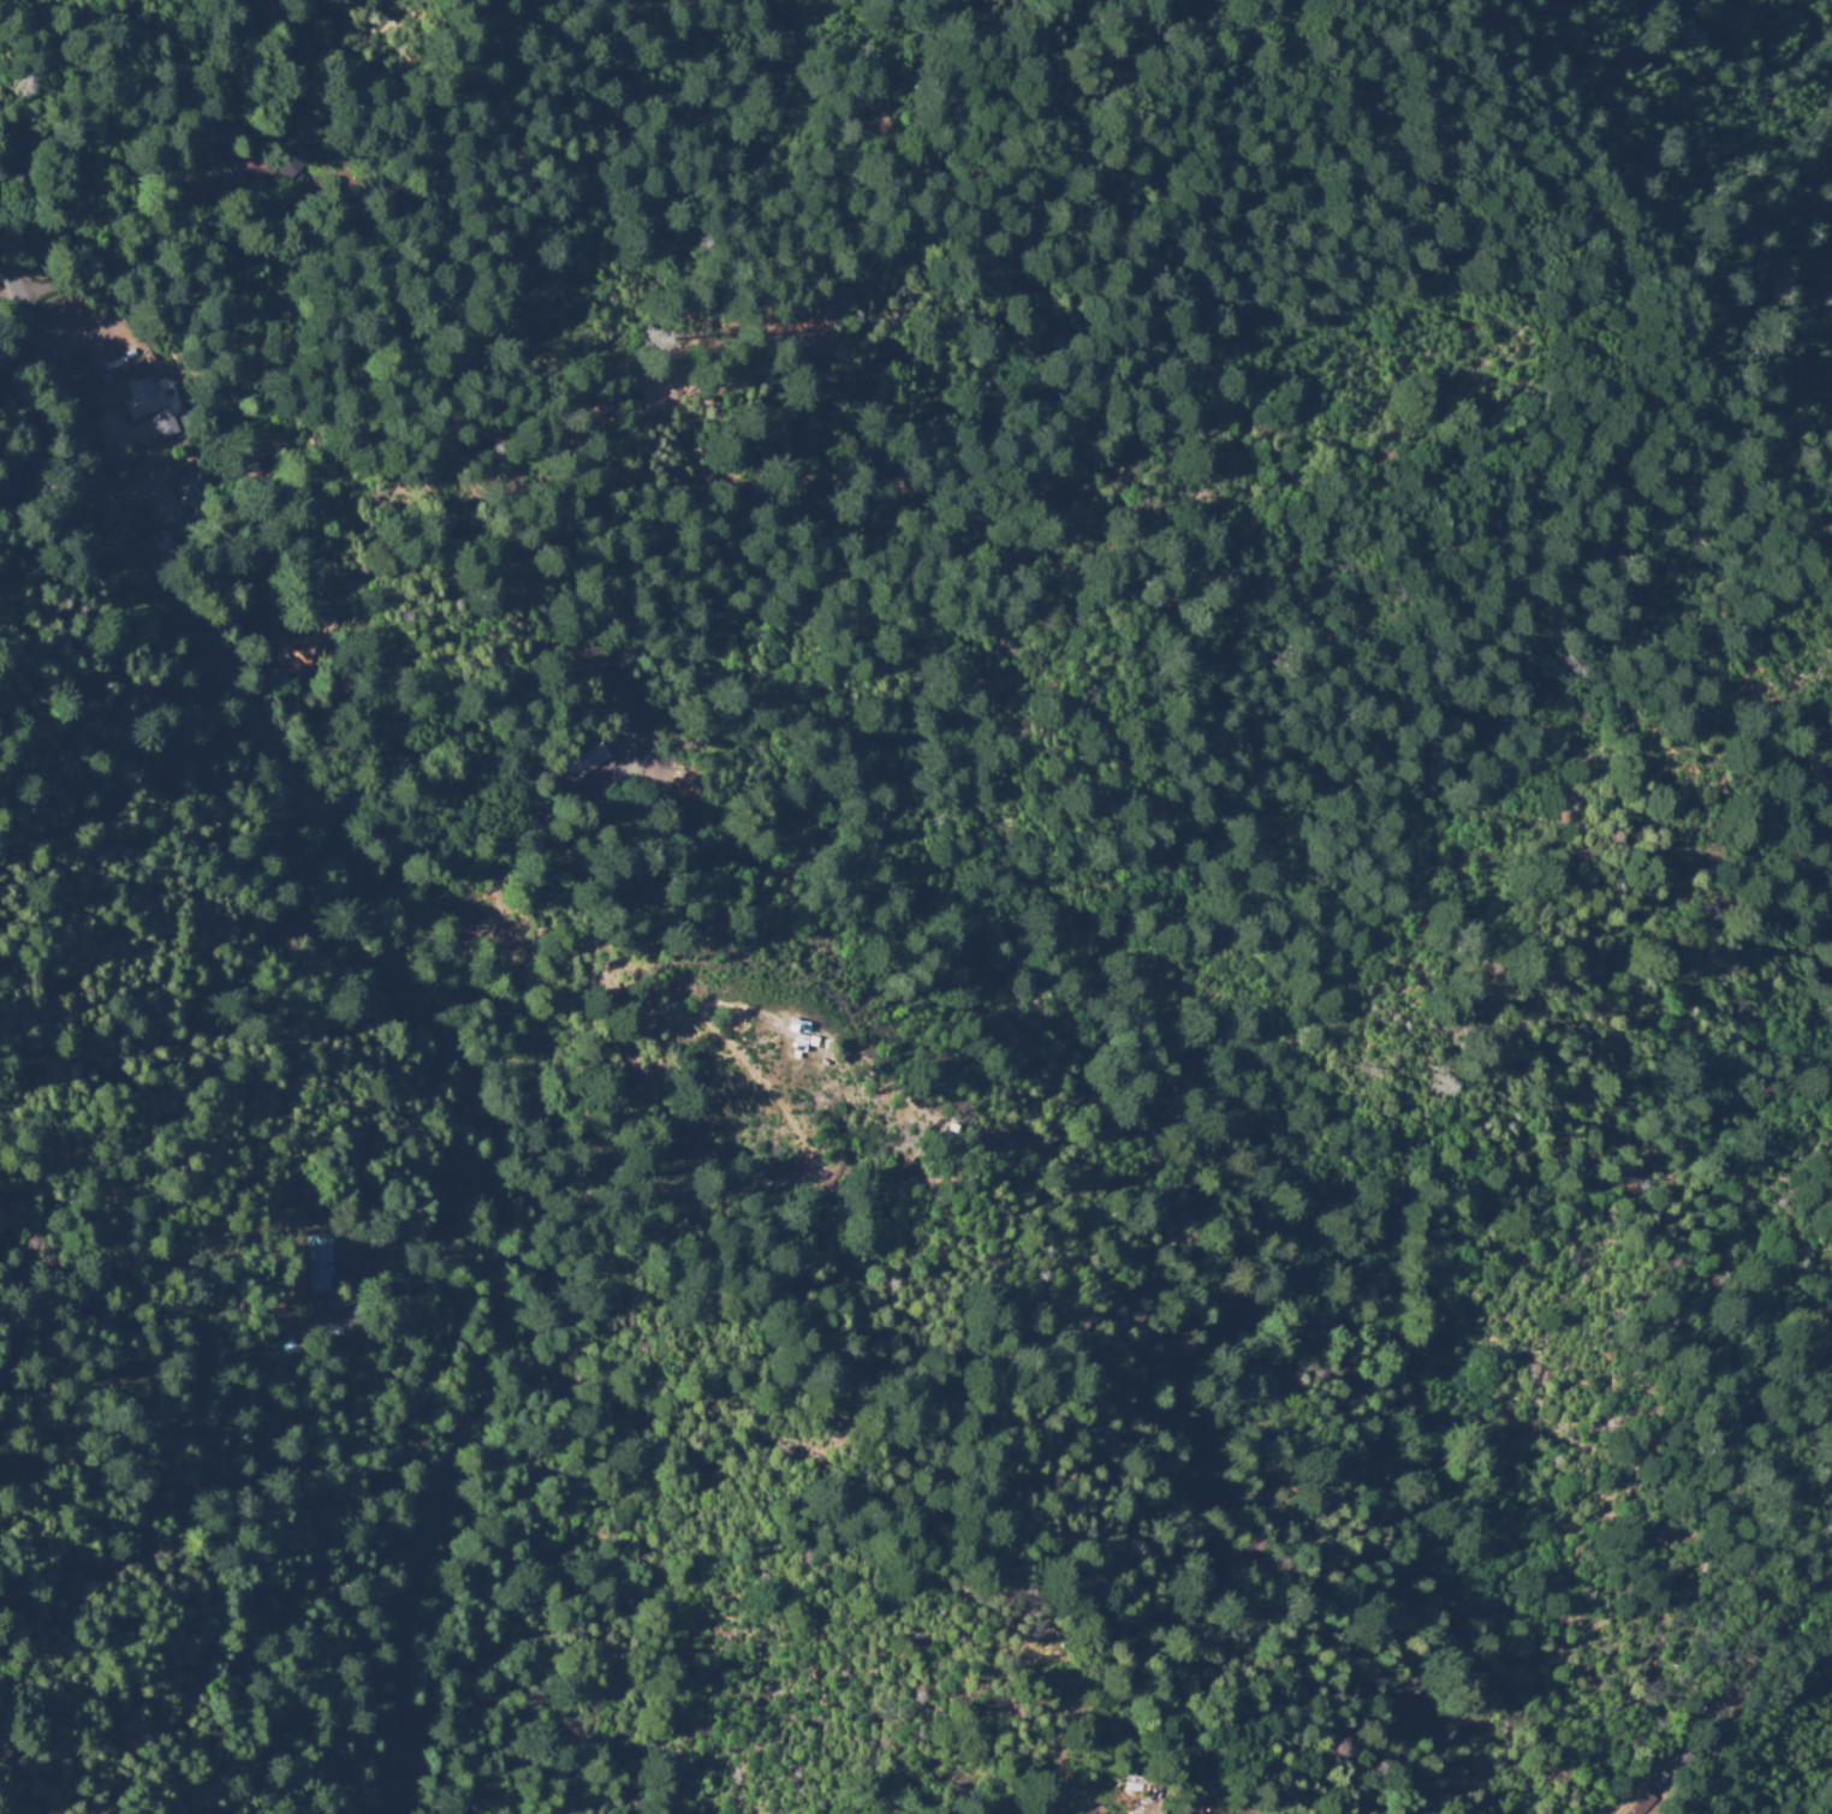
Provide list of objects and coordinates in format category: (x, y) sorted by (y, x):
building: (254, 144)
building: (304, 179)
building: (144, 398)
building: (167, 427)
building: (19, 475)
building: (165, 501)
building: (403, 753)
road: (420, 987)
building: (789, 1025)
building: (795, 1049)
building: (325, 1262)
building: (285, 1346)
building: (1688, 1764)
building: (1637, 1802)
building: (1190, 1813)

